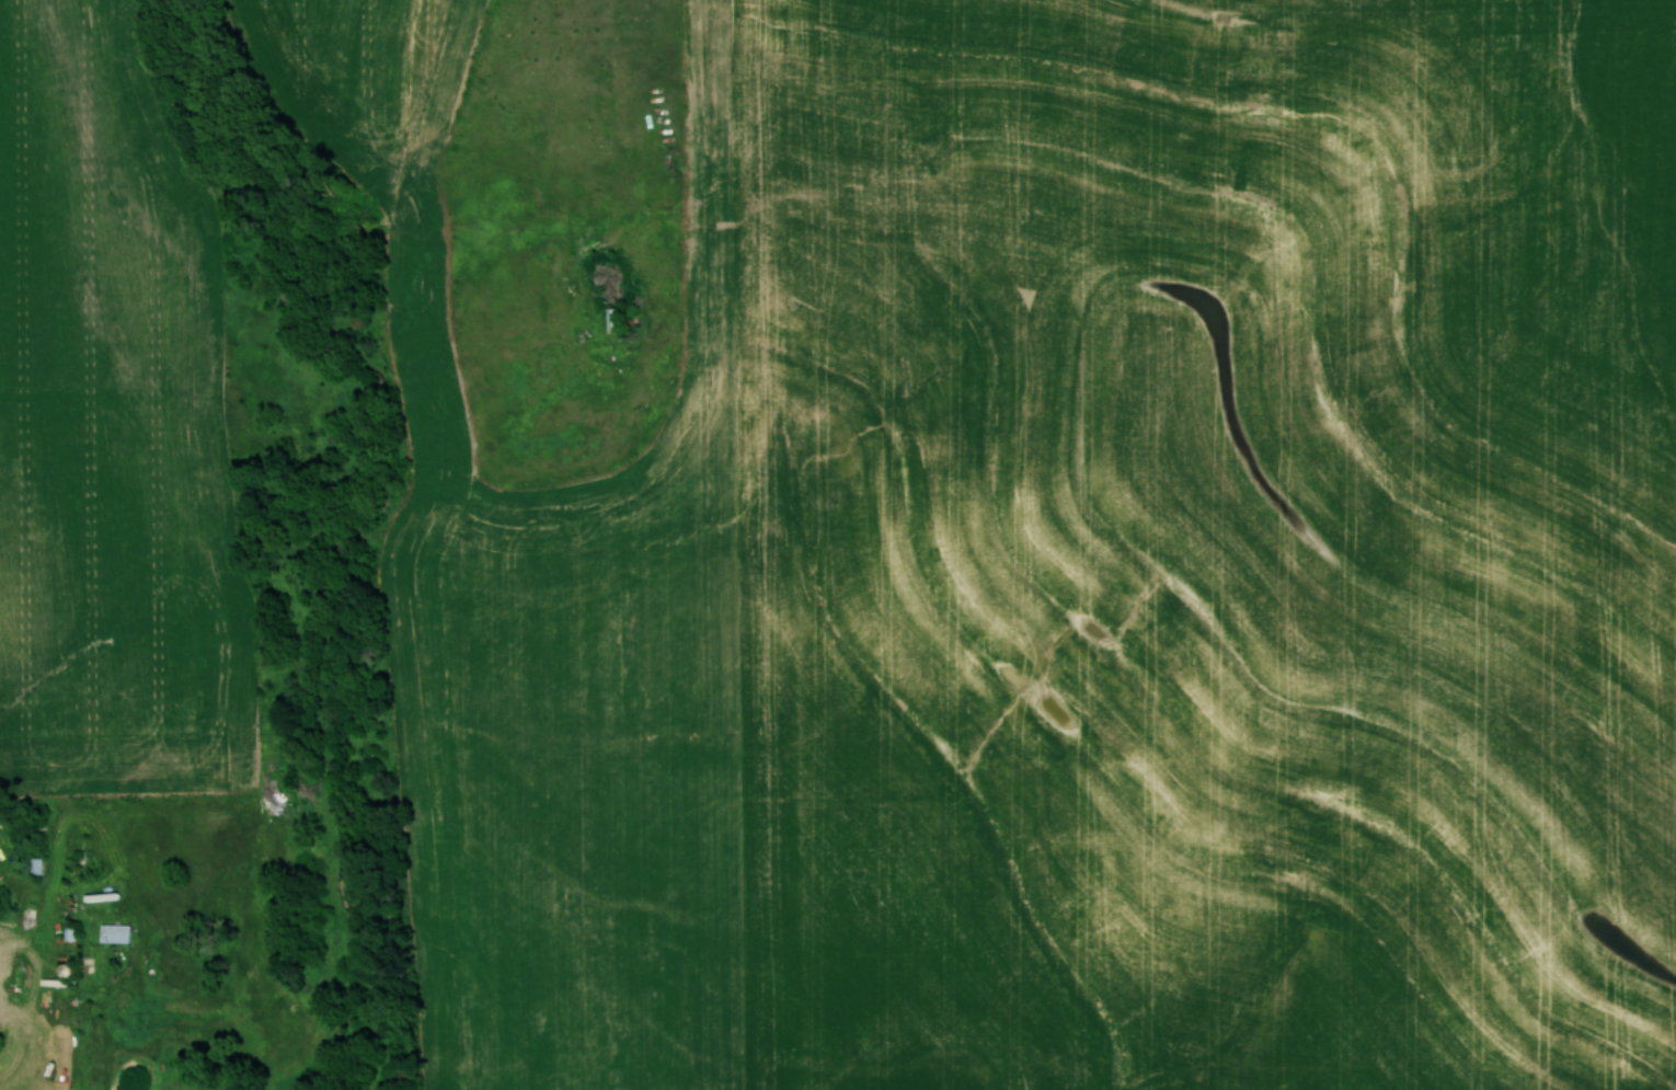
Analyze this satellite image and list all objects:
building: (618, 318)
building: (117, 933)

